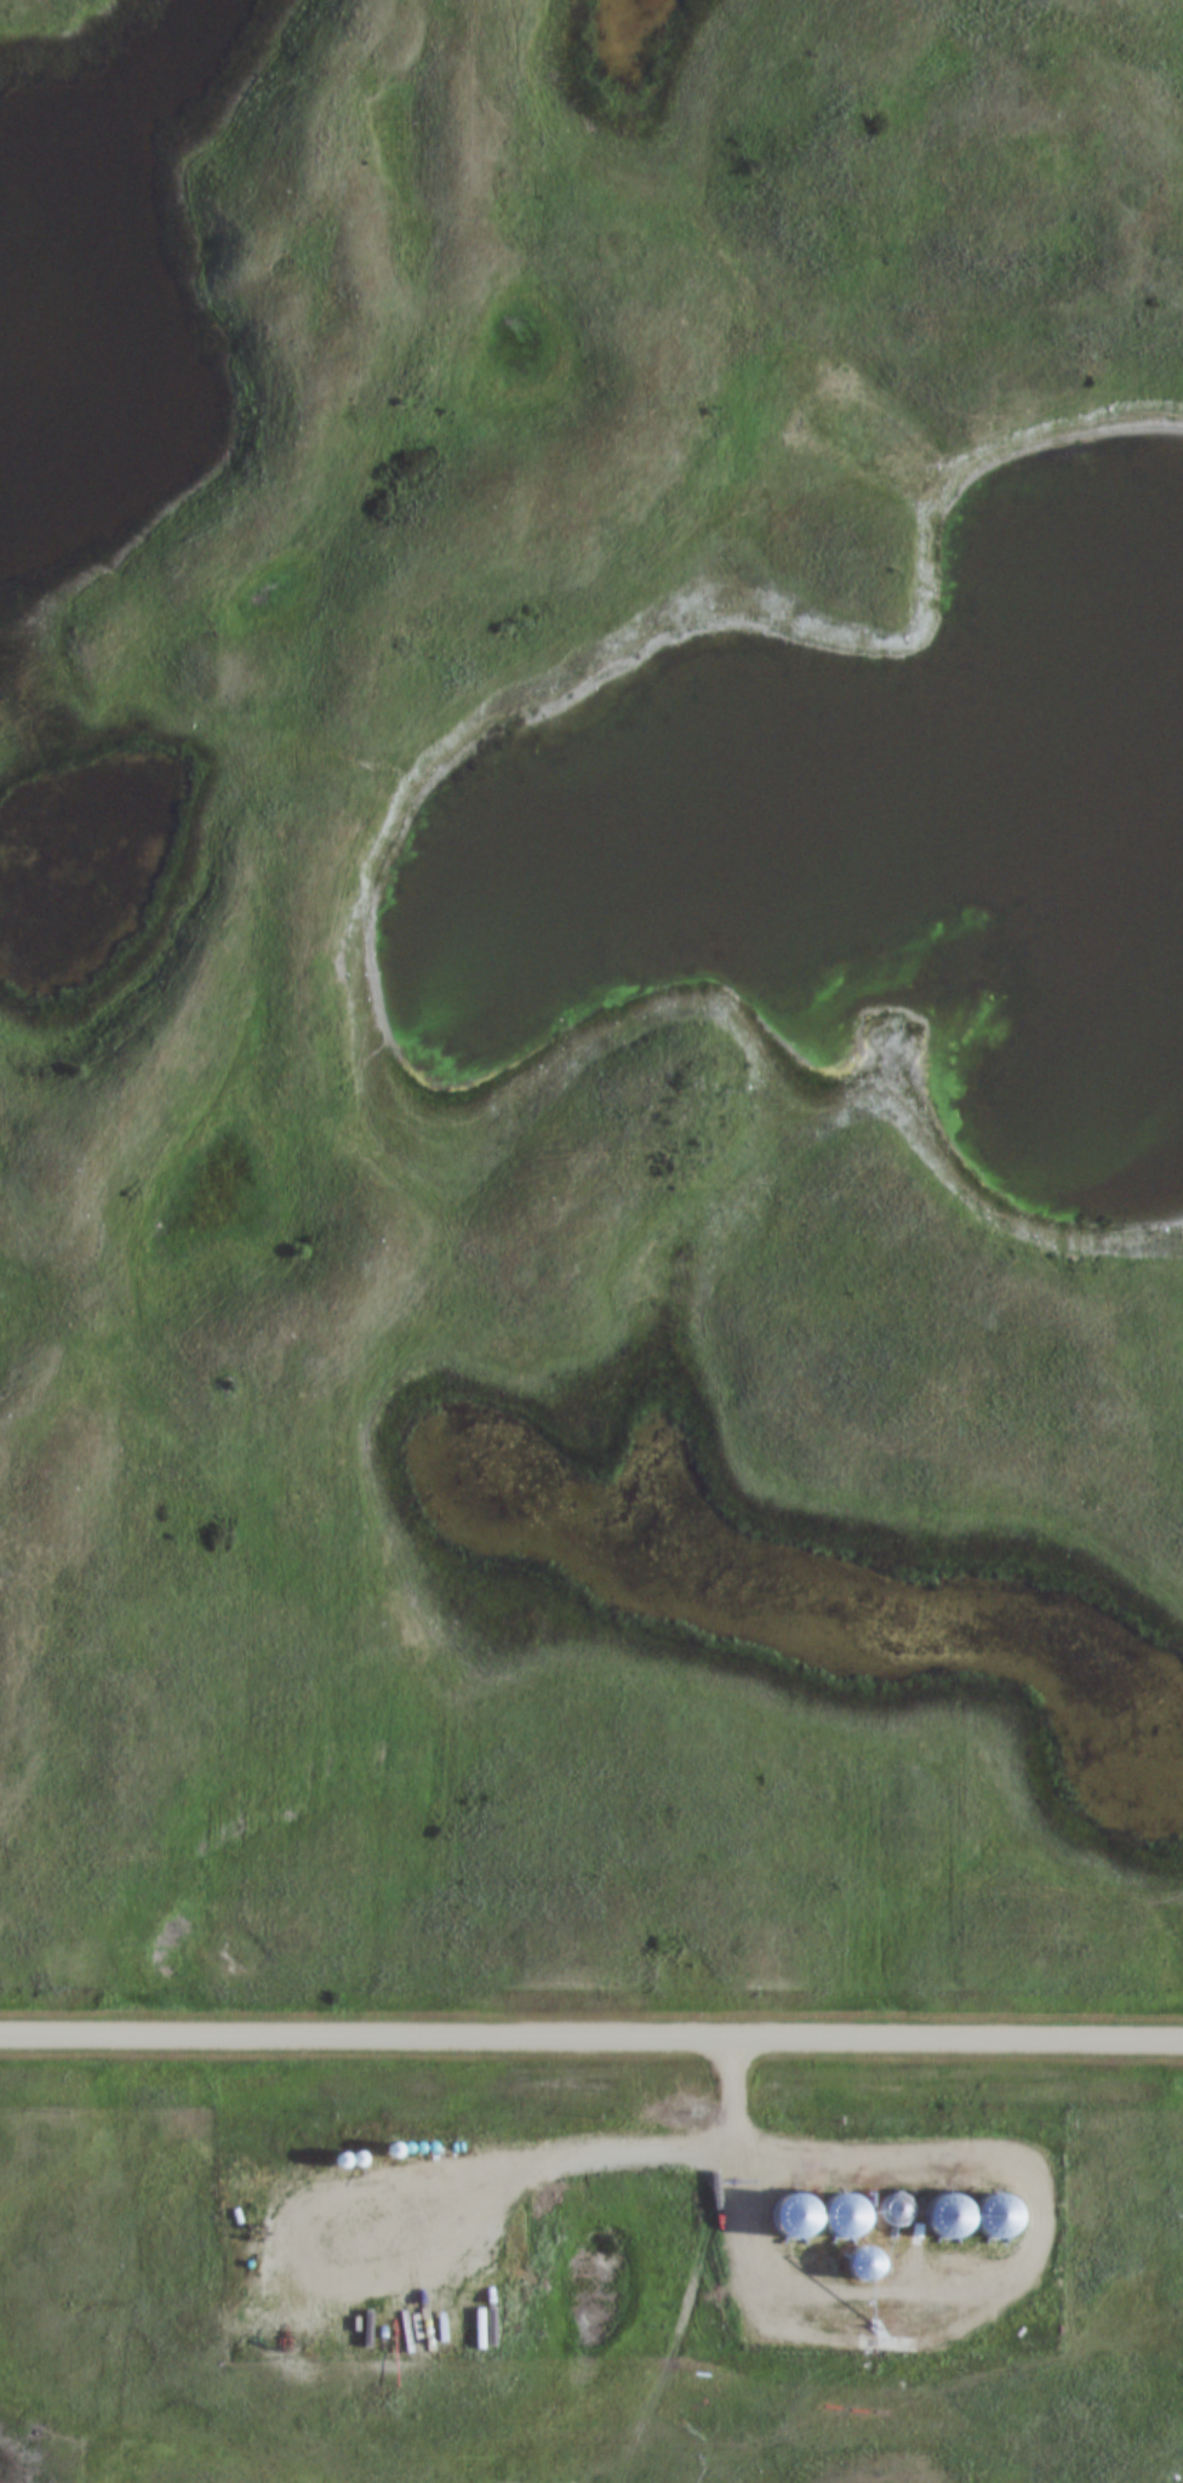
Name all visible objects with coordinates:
road: (590, 2038)

